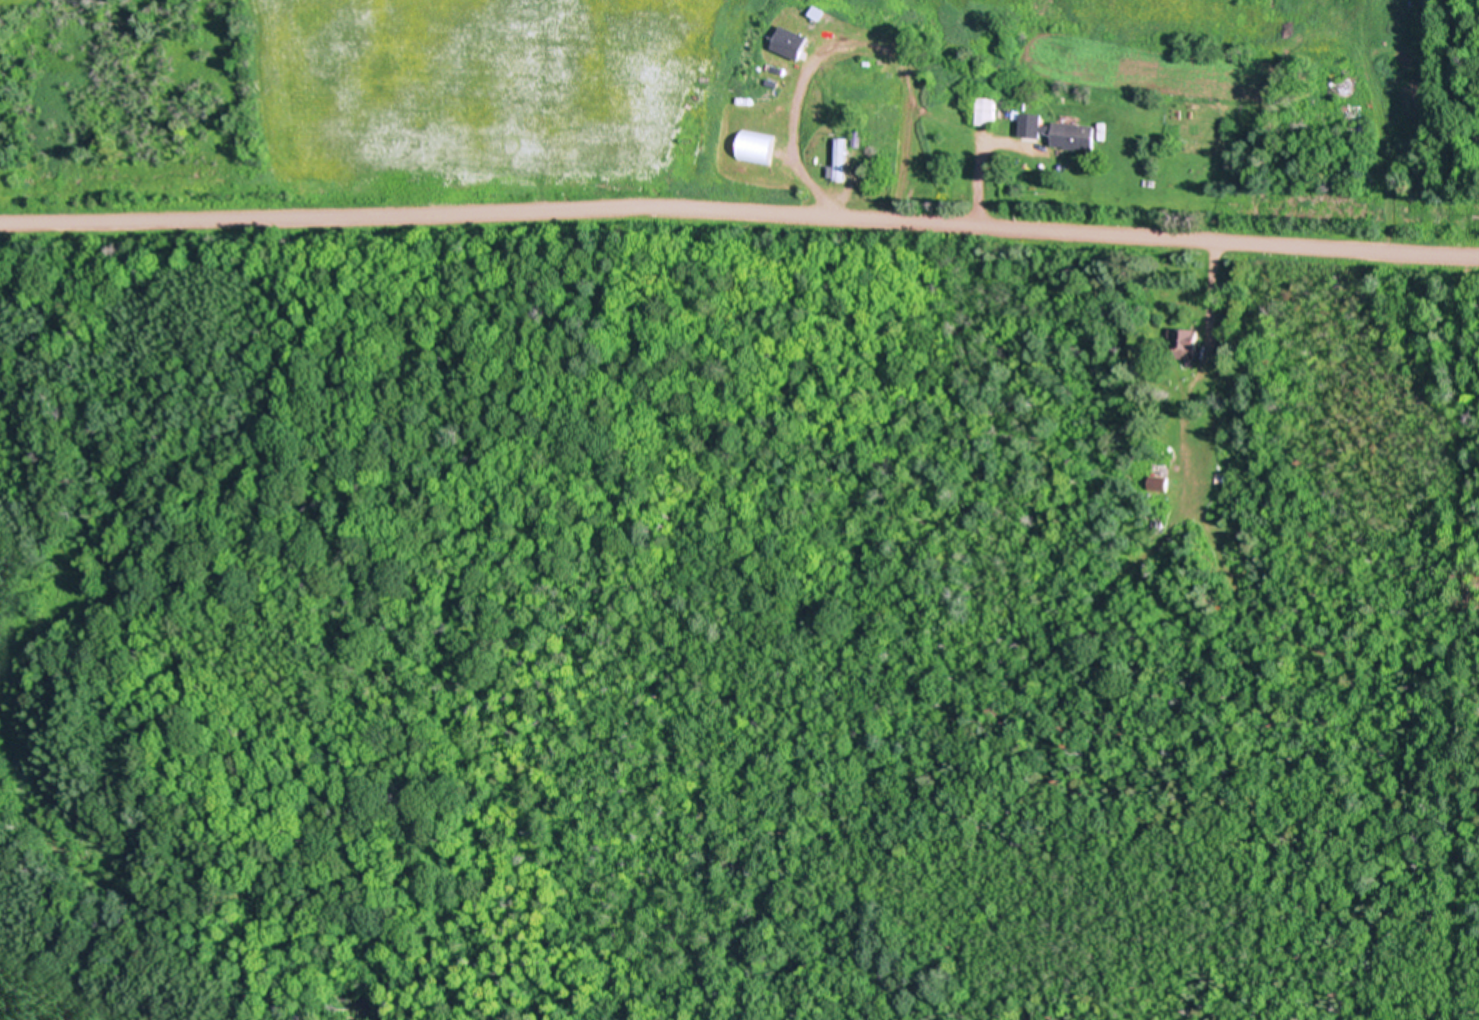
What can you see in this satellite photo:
building: (792, 42)
building: (988, 112)
building: (1058, 131)
building: (841, 160)
building: (761, 161)
road: (739, 214)
building: (1186, 343)

